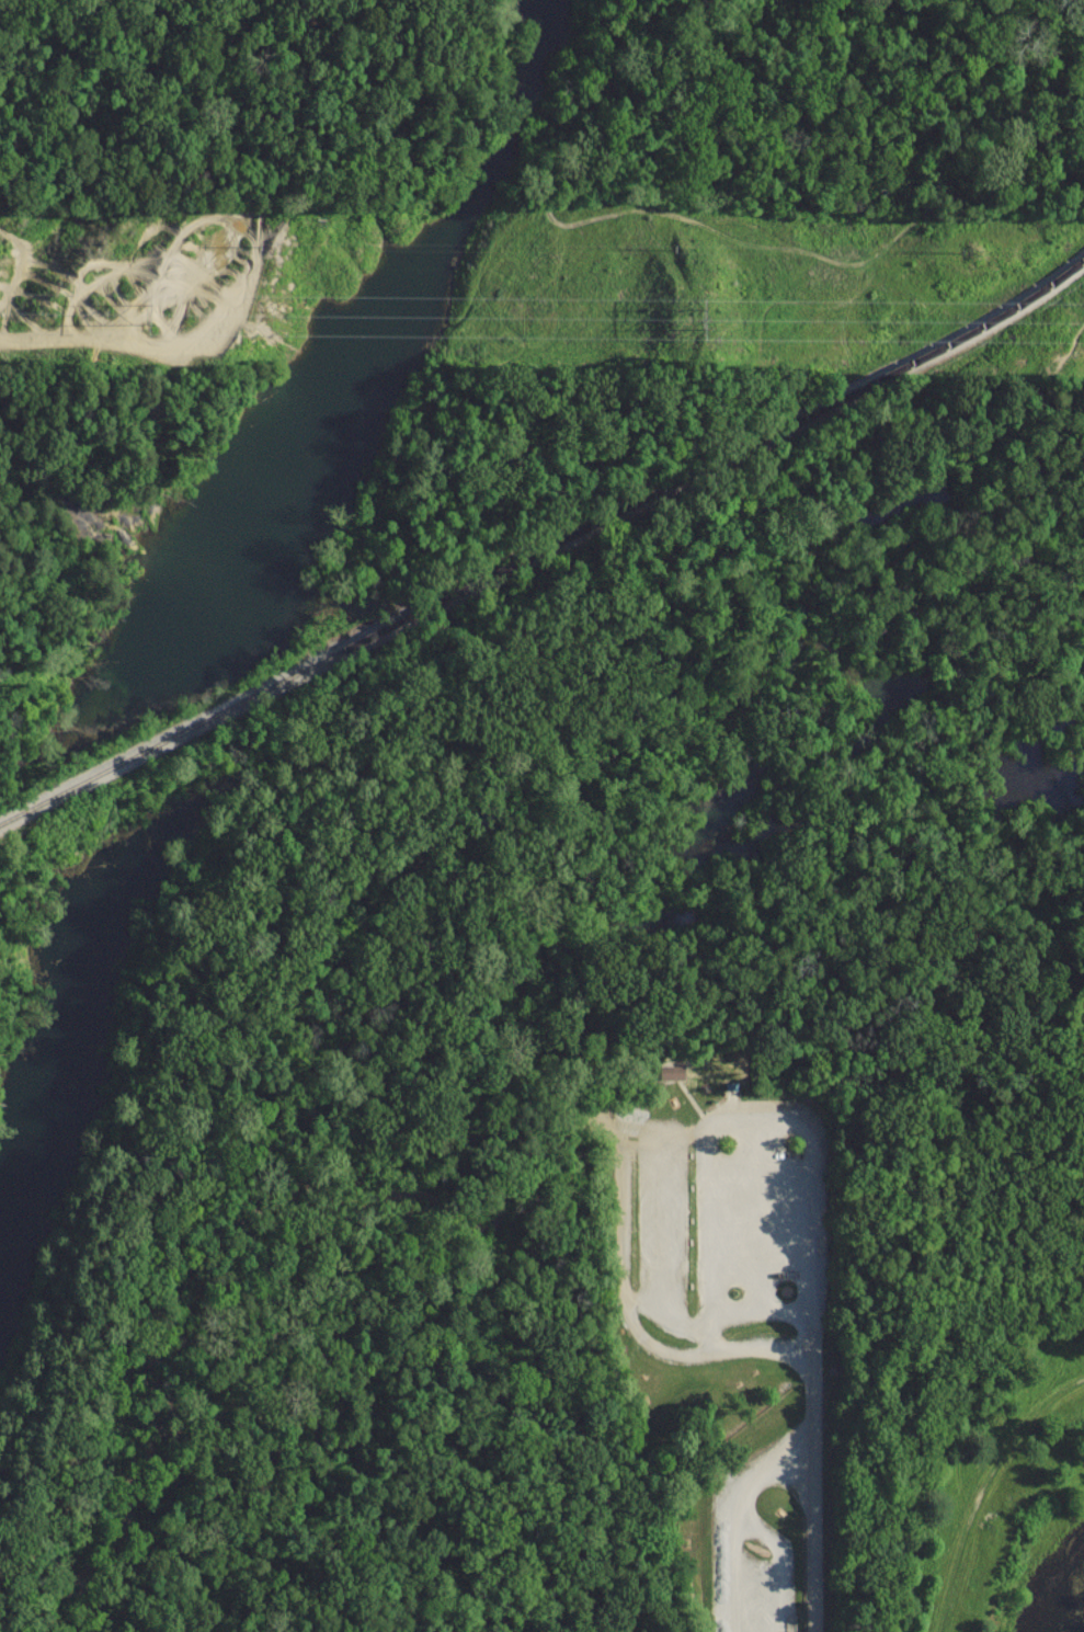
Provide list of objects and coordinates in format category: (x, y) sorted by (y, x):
power tower: (700, 309)
power tower: (145, 311)
railway: (545, 549)
building: (672, 1071)
road: (814, 1336)

